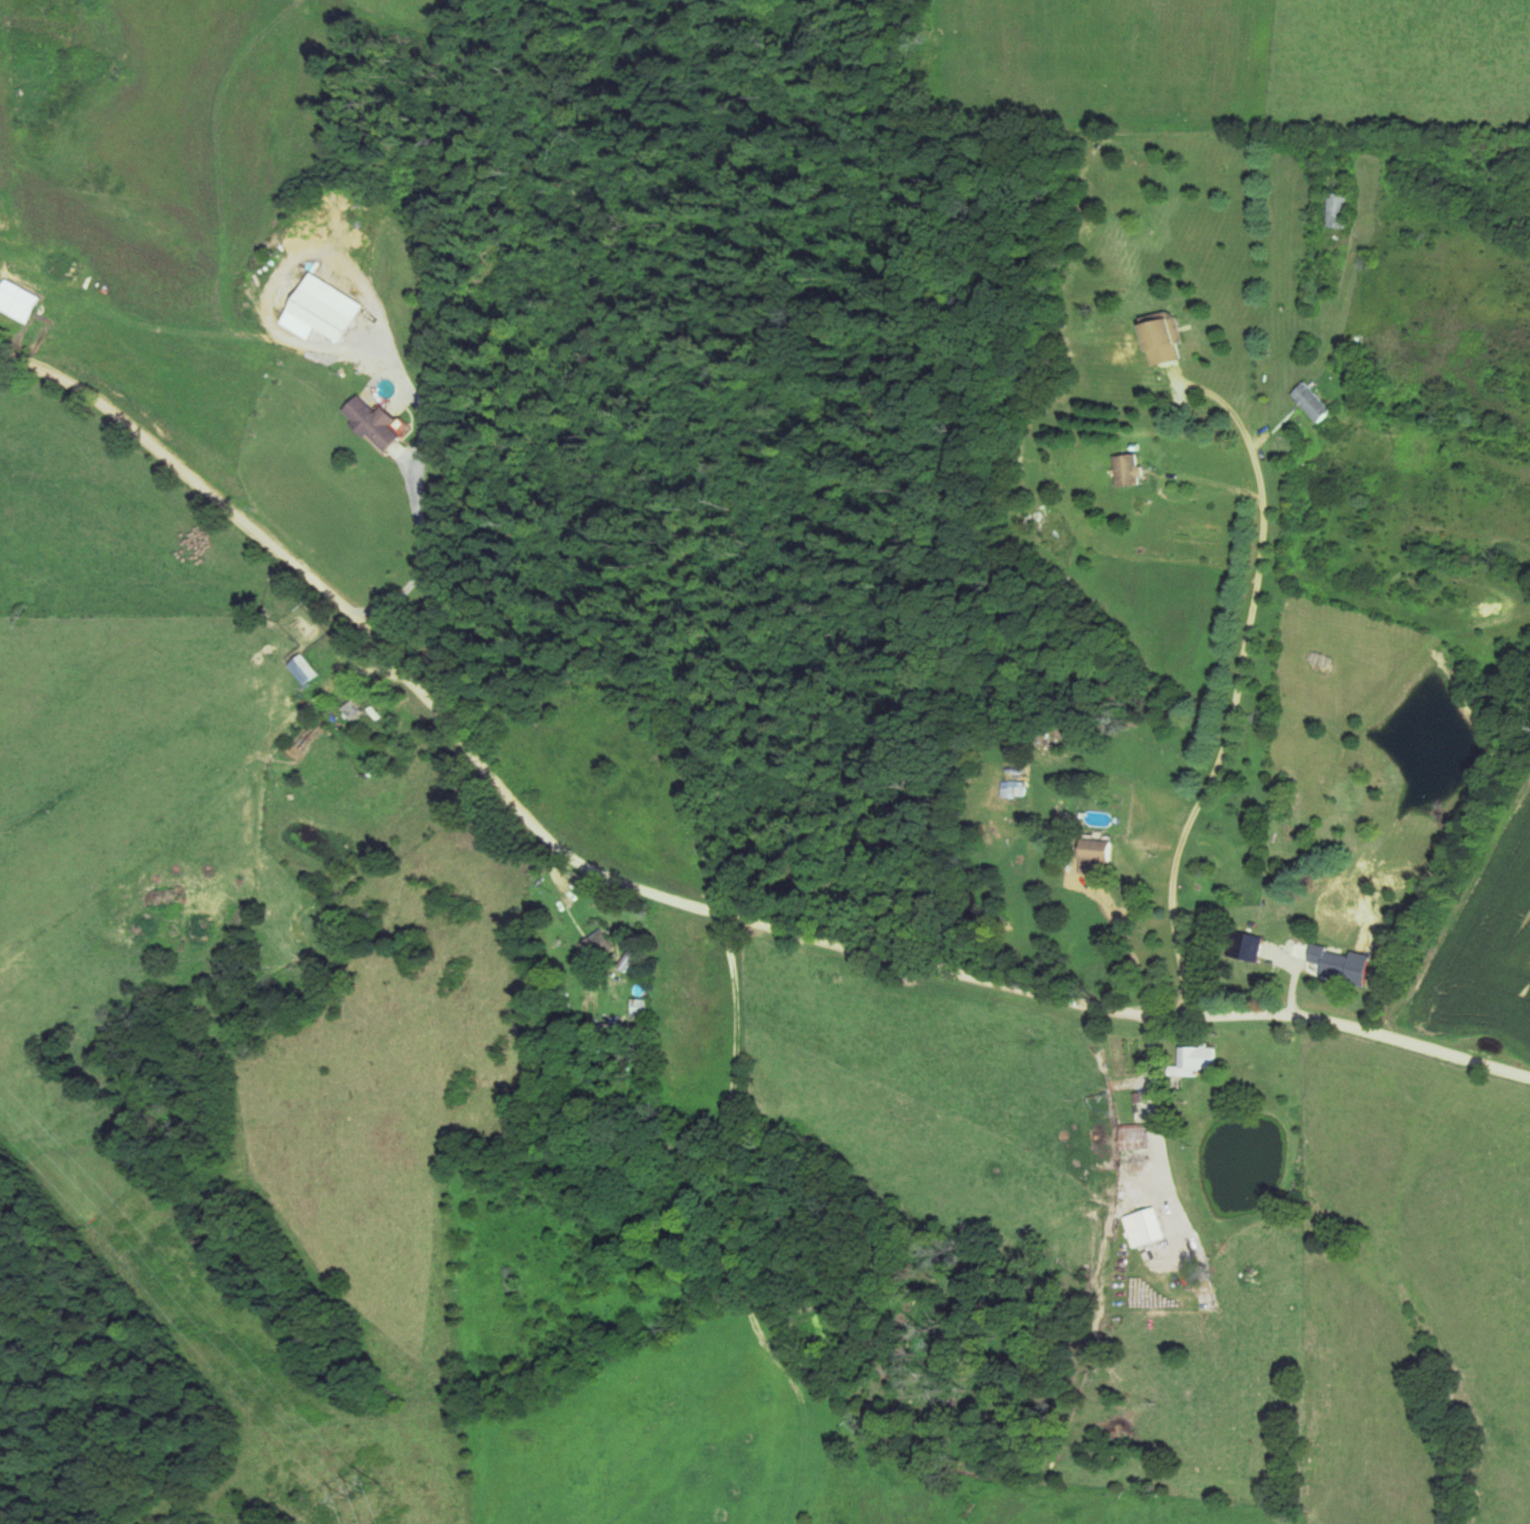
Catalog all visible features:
building: (1336, 209)
building: (16, 300)
building: (325, 307)
building: (1161, 337)
building: (1309, 401)
building: (373, 422)
building: (1127, 469)
building: (303, 669)
road: (1236, 685)
building: (357, 710)
building: (1092, 853)
road: (670, 895)
building: (1246, 943)
building: (597, 946)
building: (1341, 963)
building: (640, 1006)
building: (1195, 1058)
building: (1133, 1135)
building: (1144, 1226)
power tower: (362, 1490)

